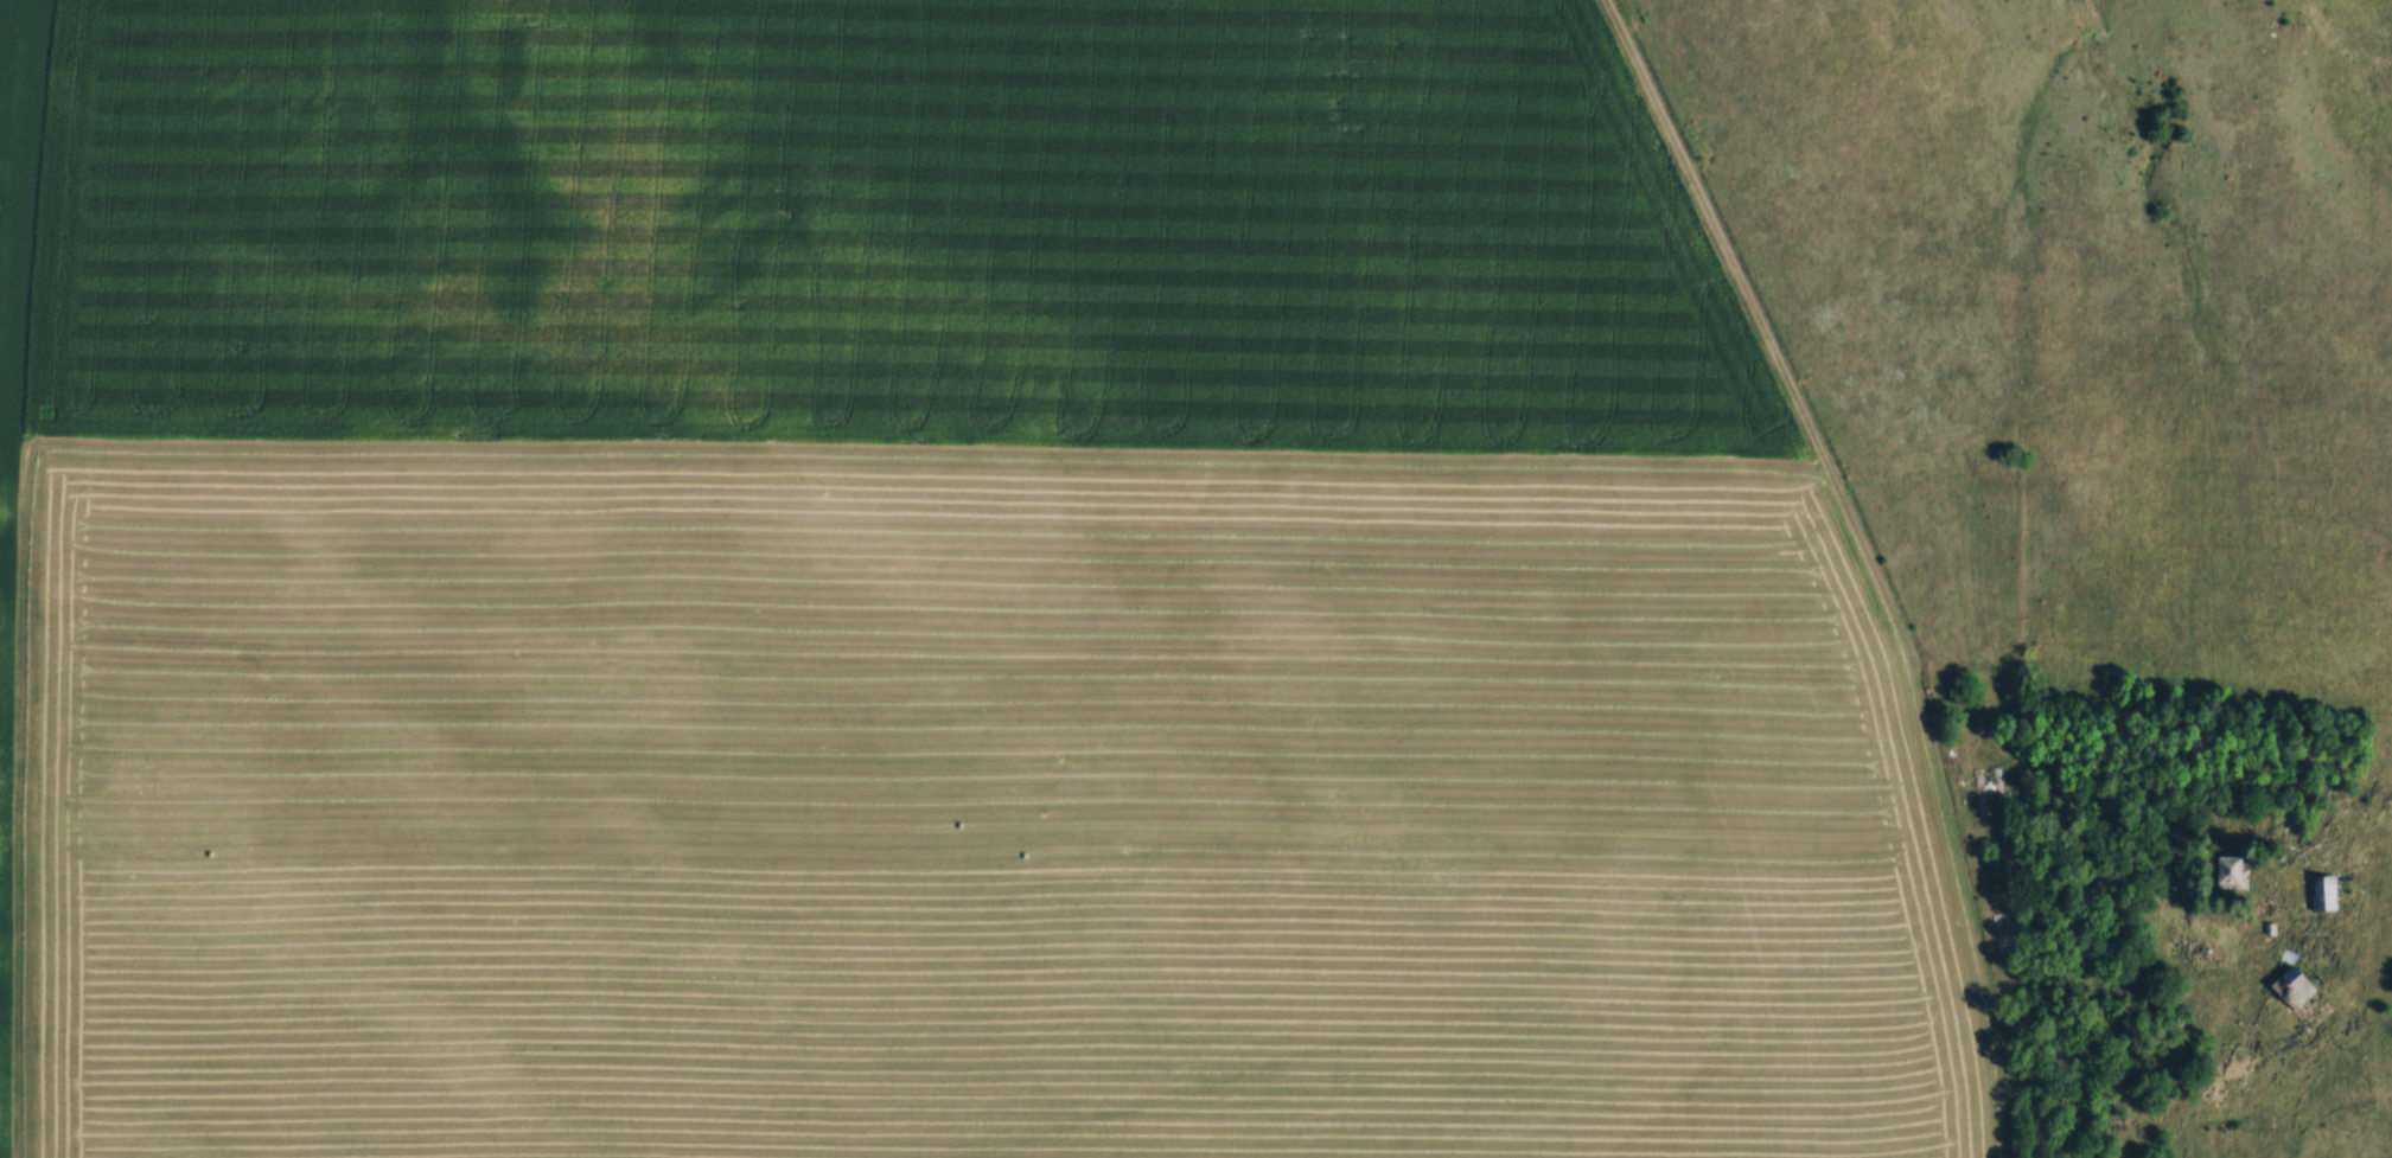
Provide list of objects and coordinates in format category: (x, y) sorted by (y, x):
road: (1793, 404)
building: (1979, 791)
building: (2321, 891)
building: (2288, 986)

